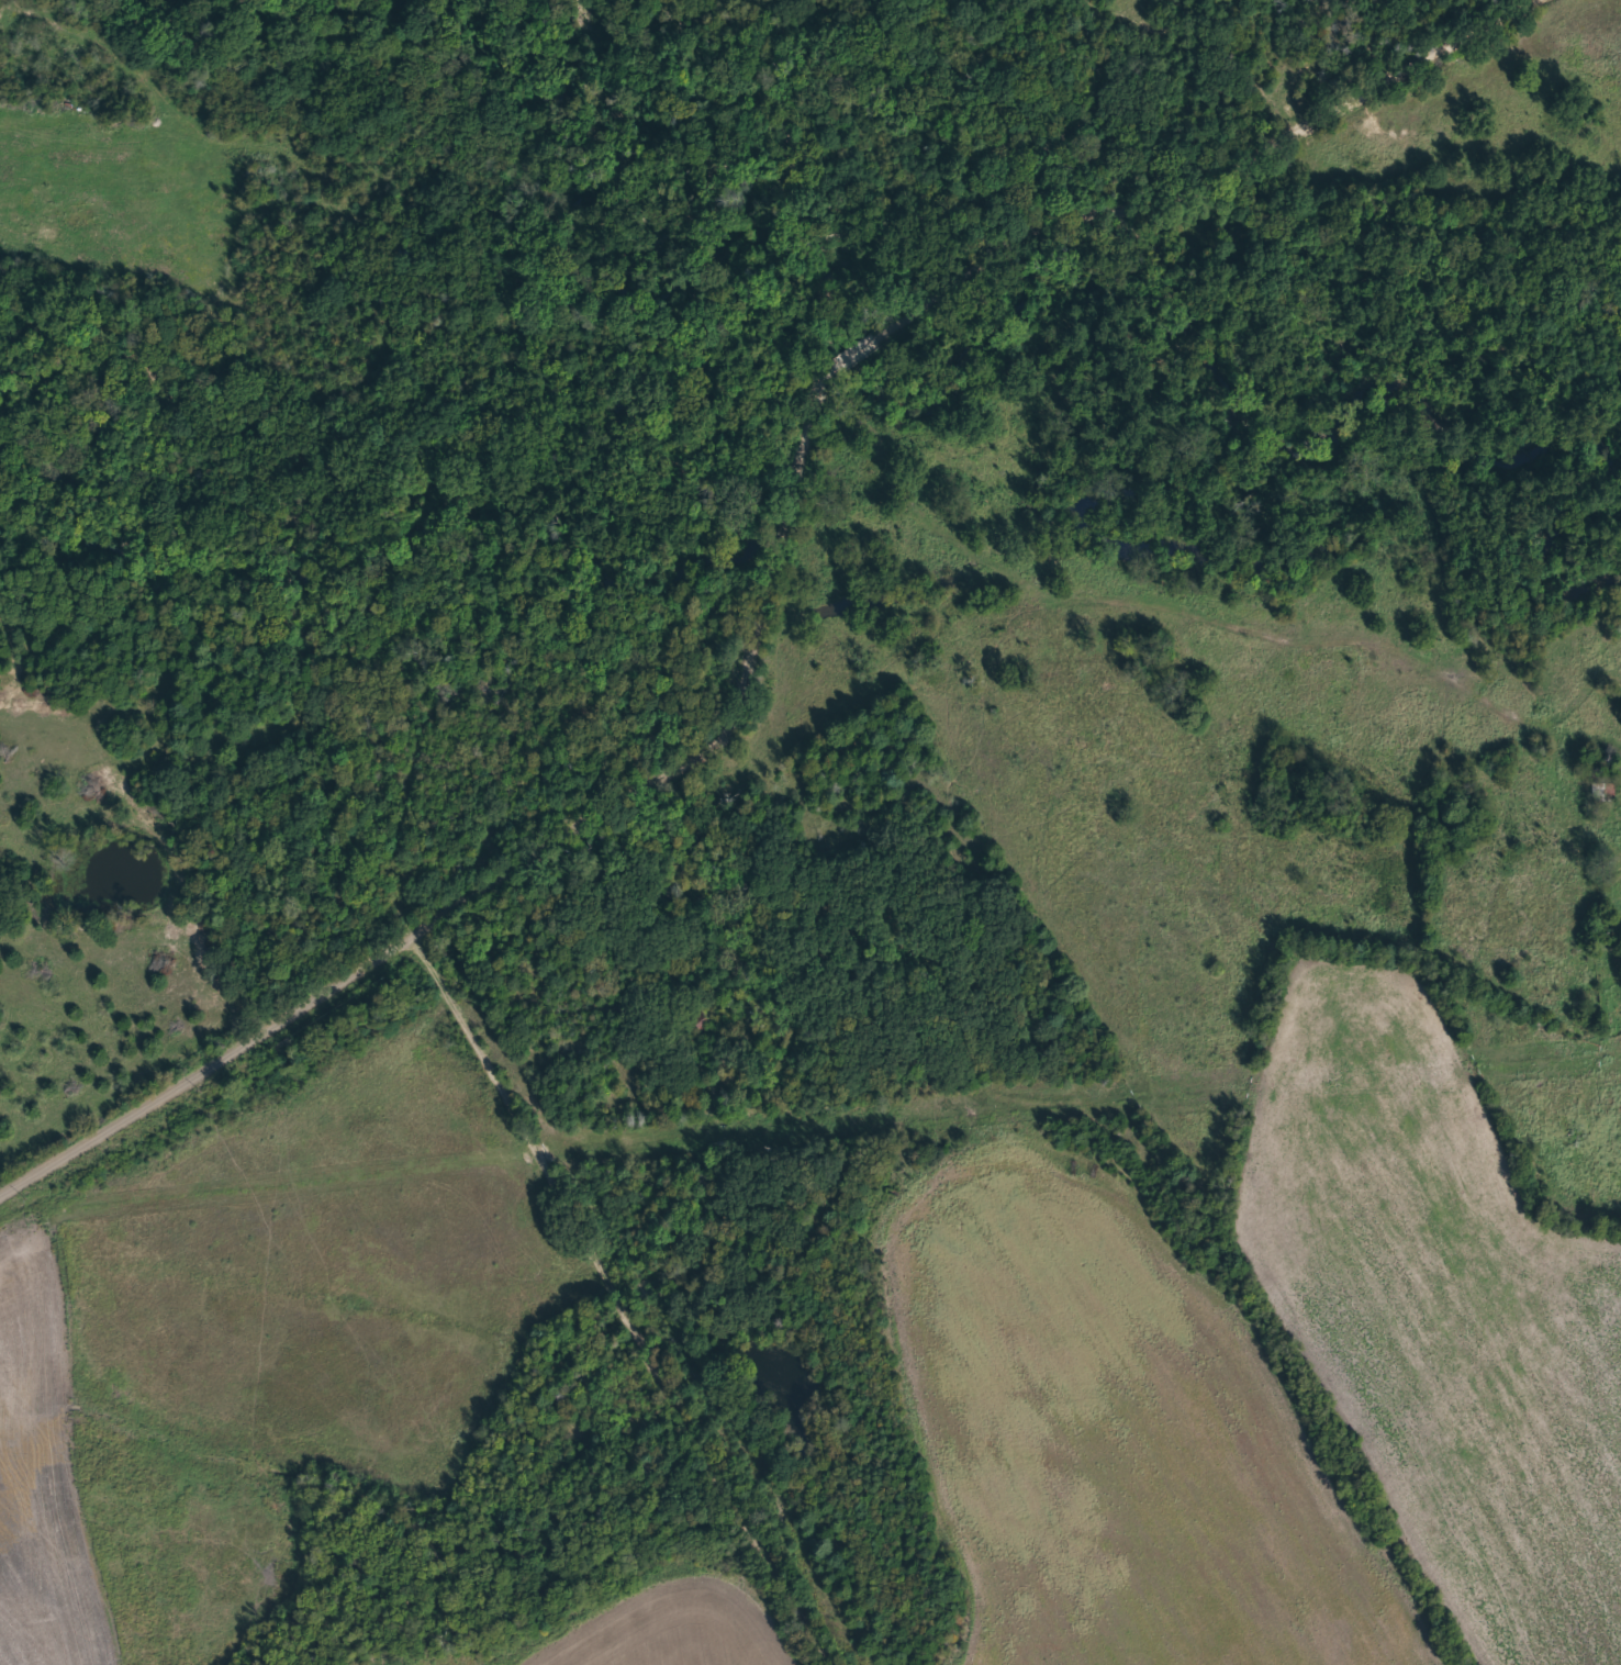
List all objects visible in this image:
road: (826, 328)
road: (1175, 597)
building: (1603, 791)
road: (139, 1100)
road: (548, 1164)

